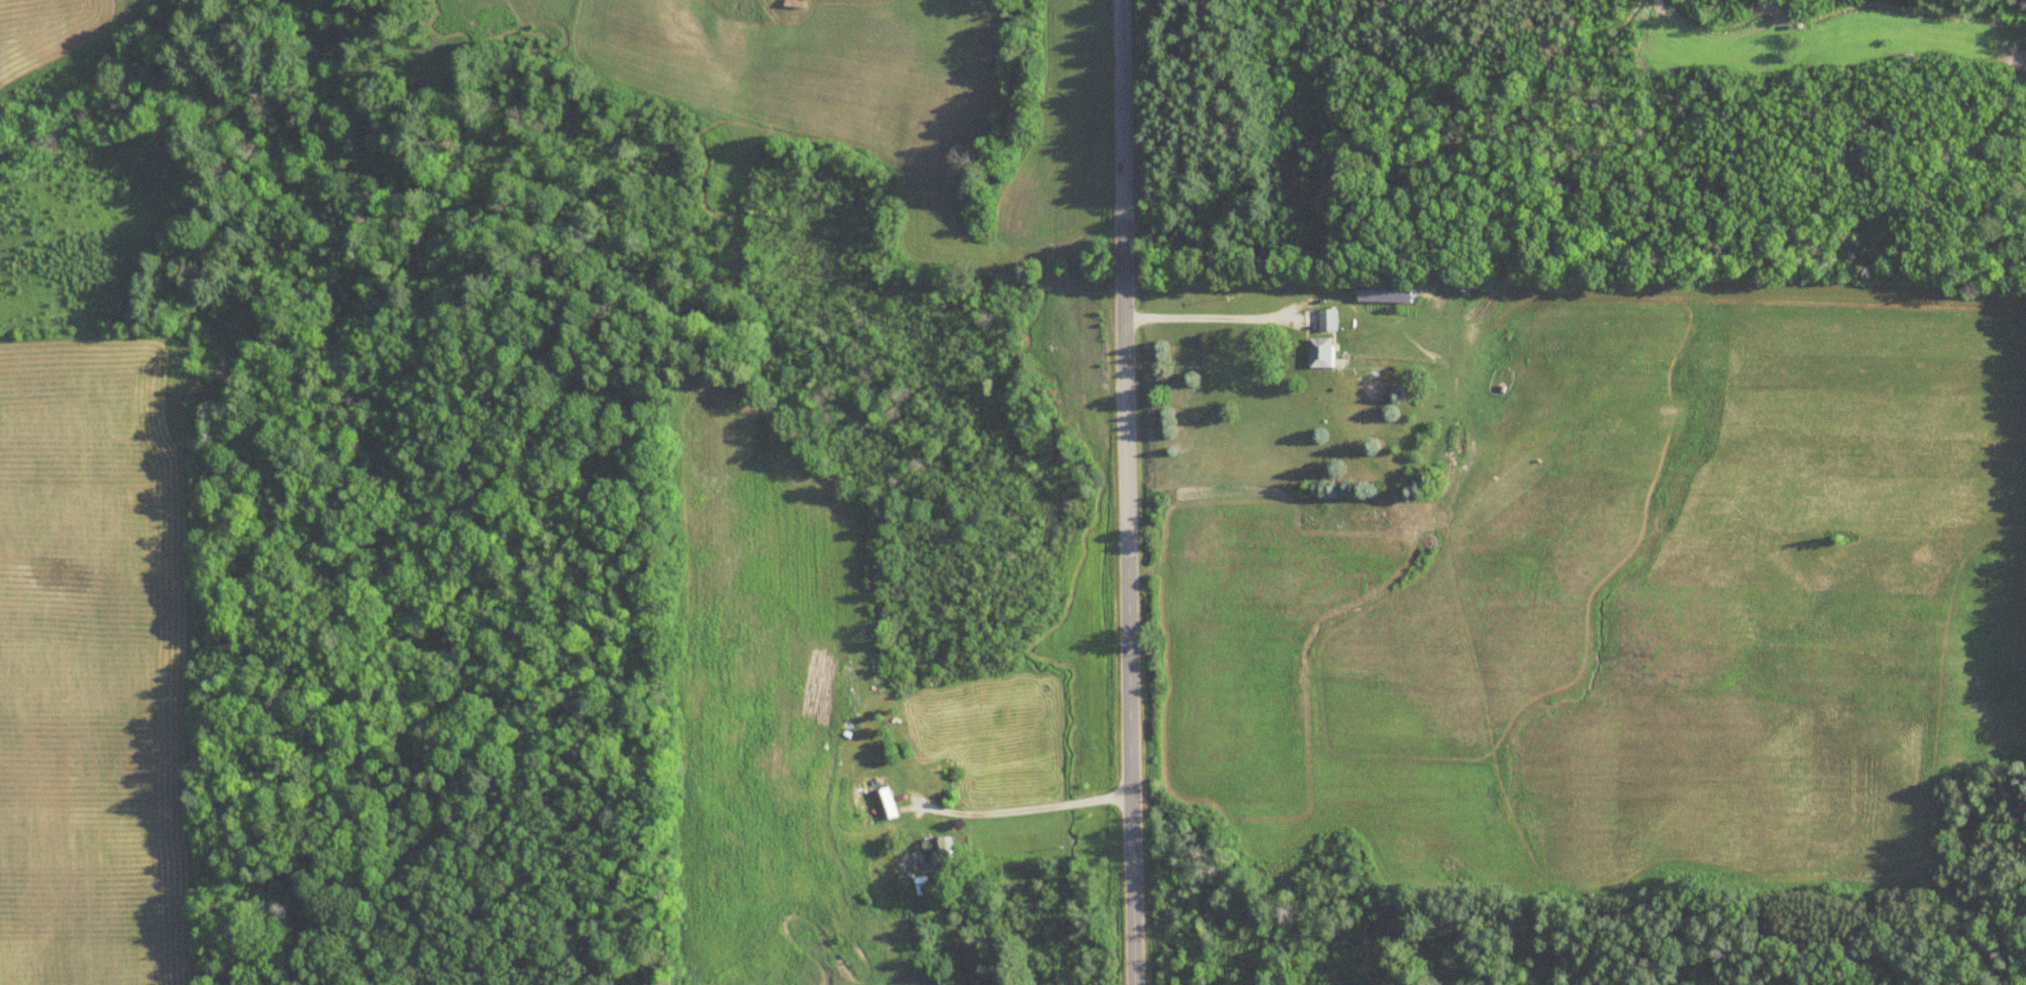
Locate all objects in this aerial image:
building: (1369, 296)
building: (1322, 320)
building: (1315, 353)
road: (1136, 492)
crop: (92, 672)
building: (887, 805)
building: (940, 851)

